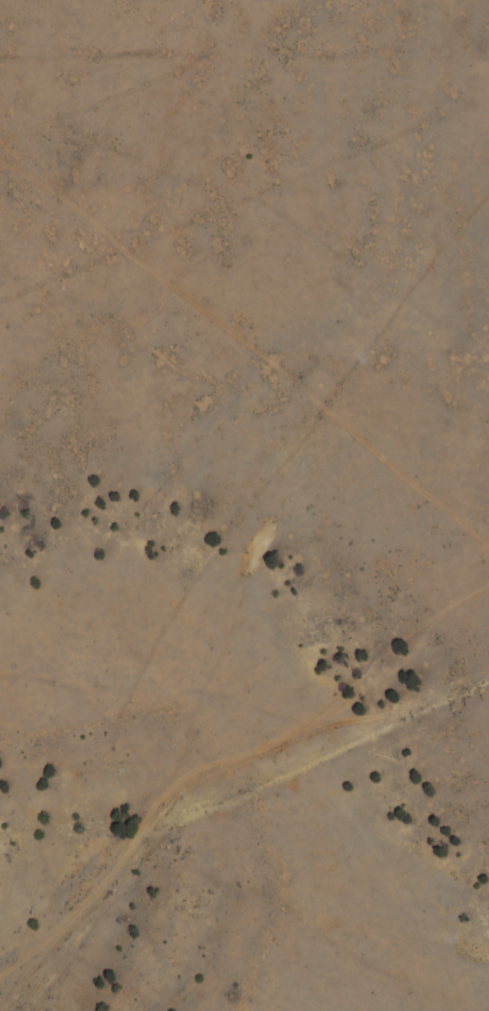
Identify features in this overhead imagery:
road: (165, 78)

